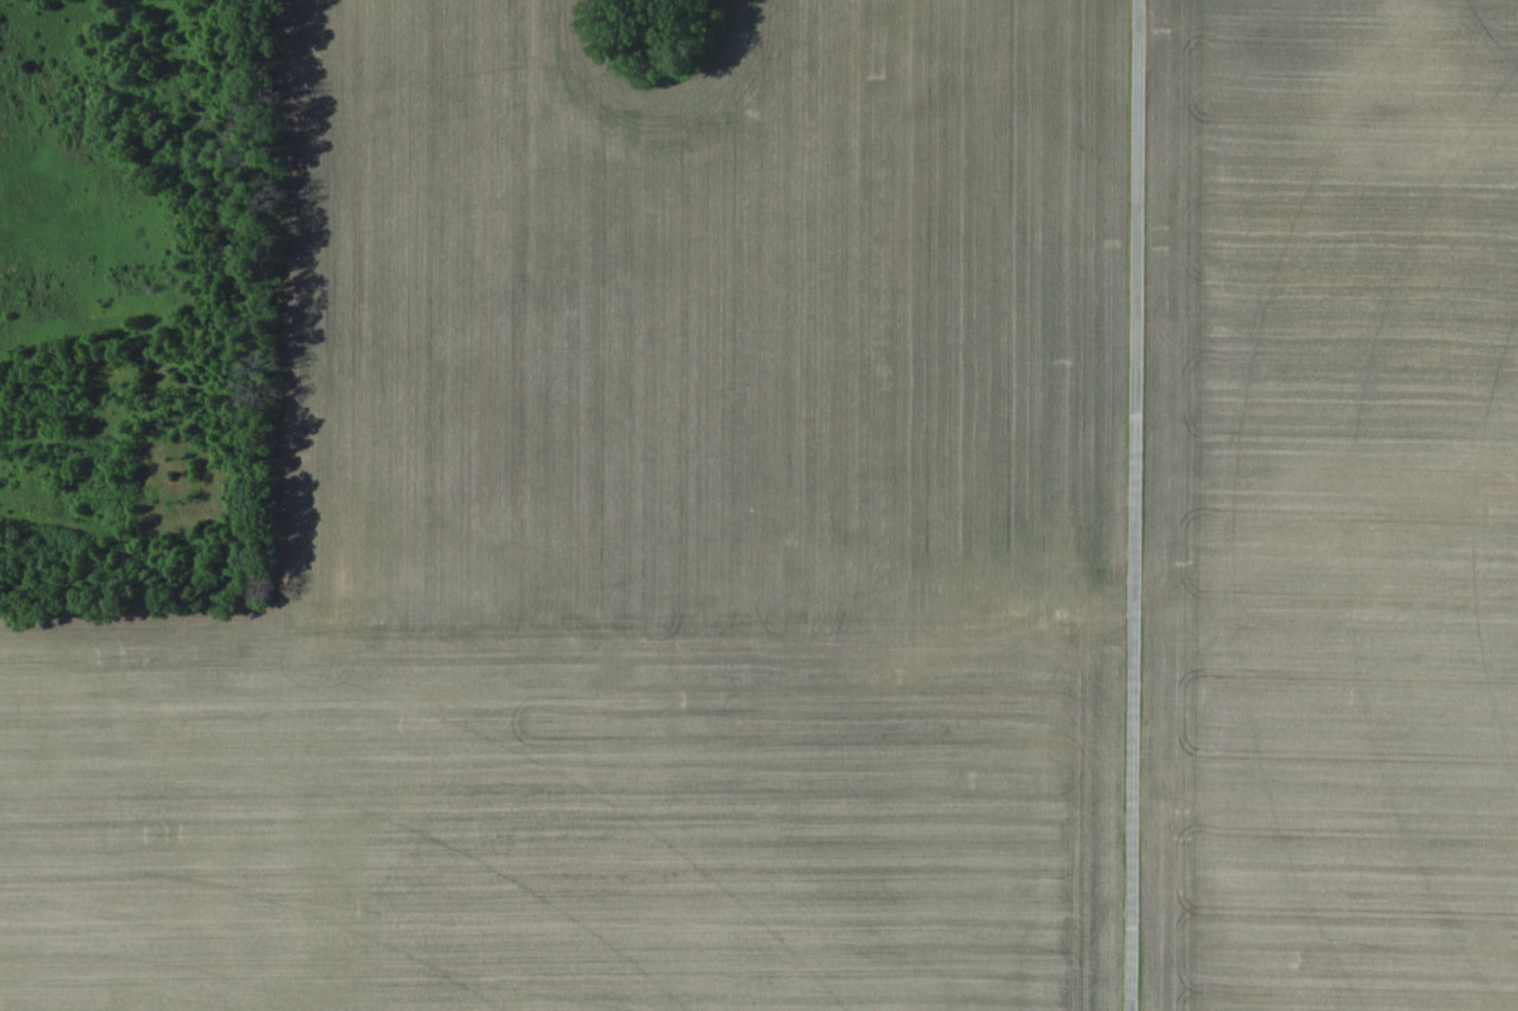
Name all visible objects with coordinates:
road: (1127, 505)

